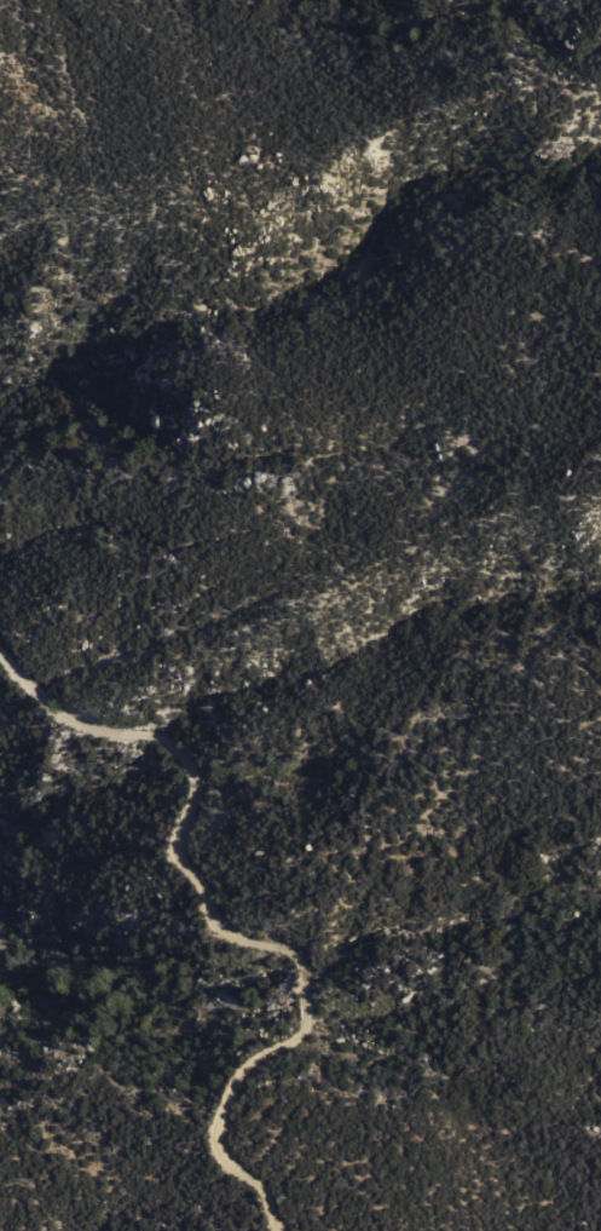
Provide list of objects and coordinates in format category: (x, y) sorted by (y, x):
road: (237, 930)

